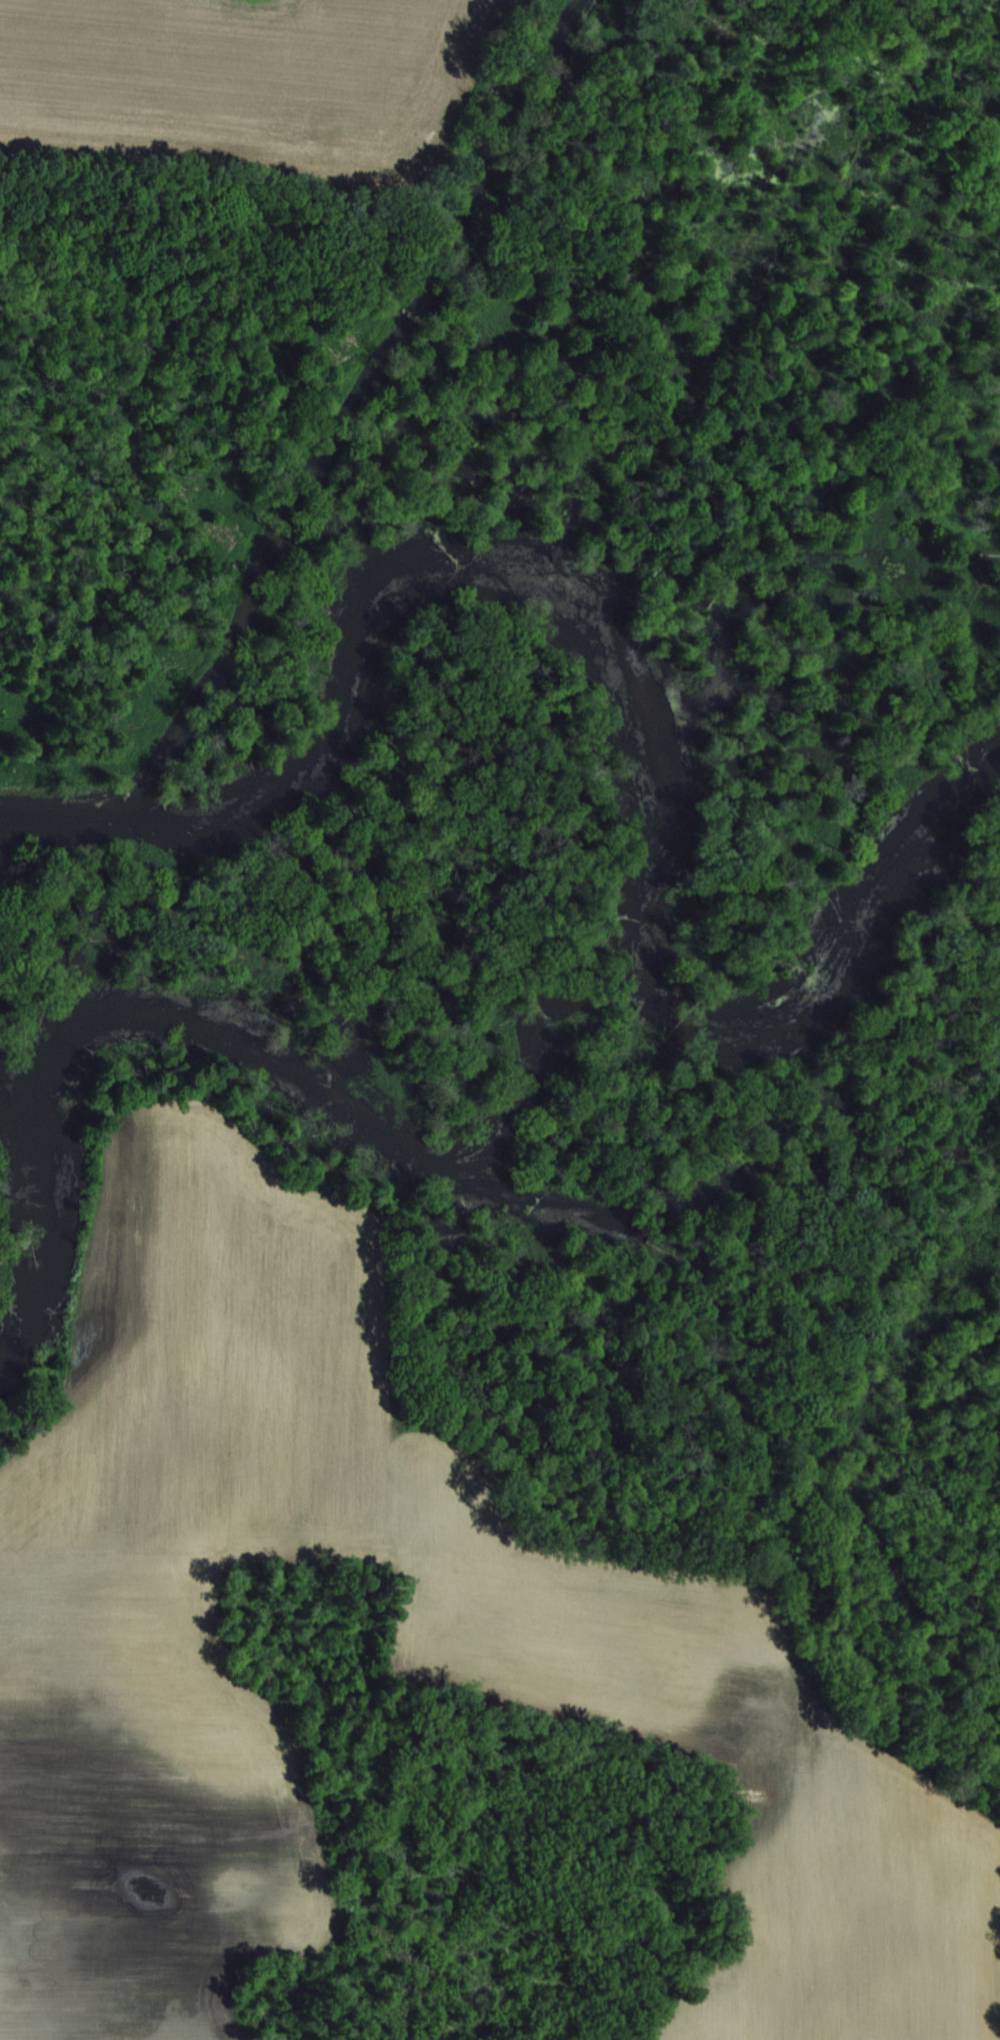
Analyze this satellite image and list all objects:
river: (618, 678)
river: (52, 1228)

